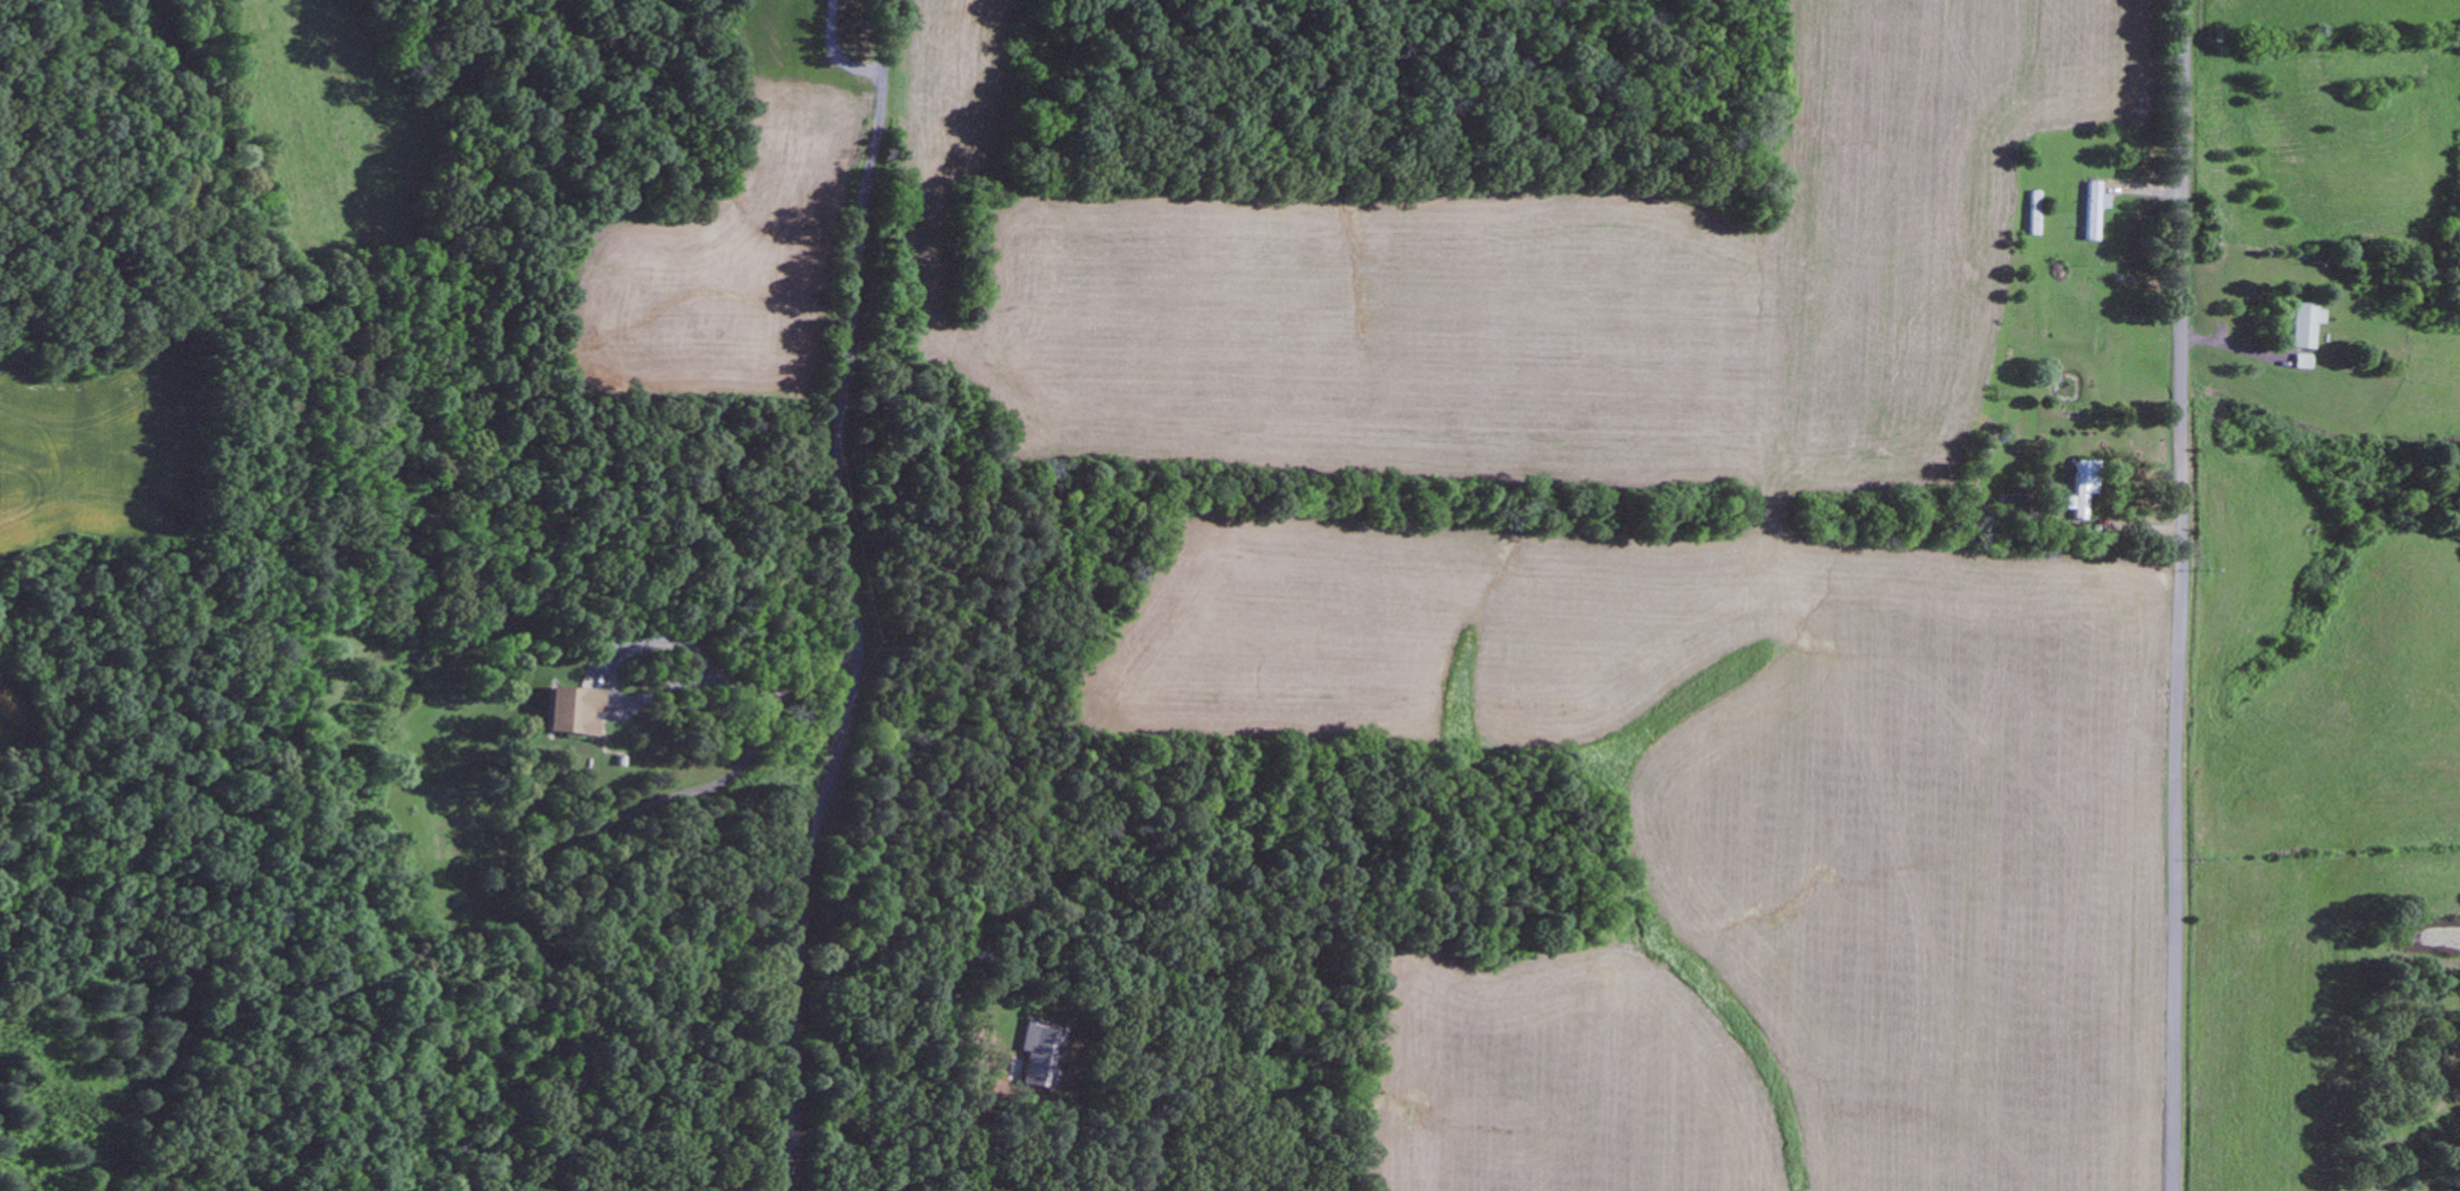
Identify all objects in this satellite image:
building: (2094, 209)
building: (2305, 324)
building: (2301, 361)
building: (2079, 487)
road: (850, 595)
road: (2179, 595)
building: (575, 710)
road: (698, 788)
building: (1041, 1051)

